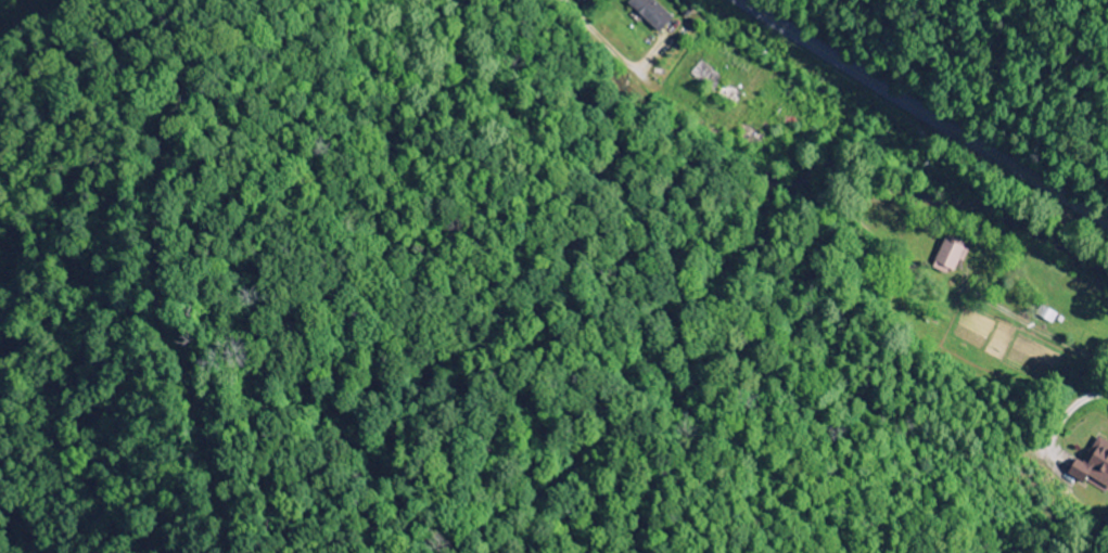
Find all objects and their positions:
building: (651, 13)
road: (647, 70)
road: (925, 112)
building: (948, 255)
building: (1046, 314)
road: (1067, 419)
building: (1093, 464)

